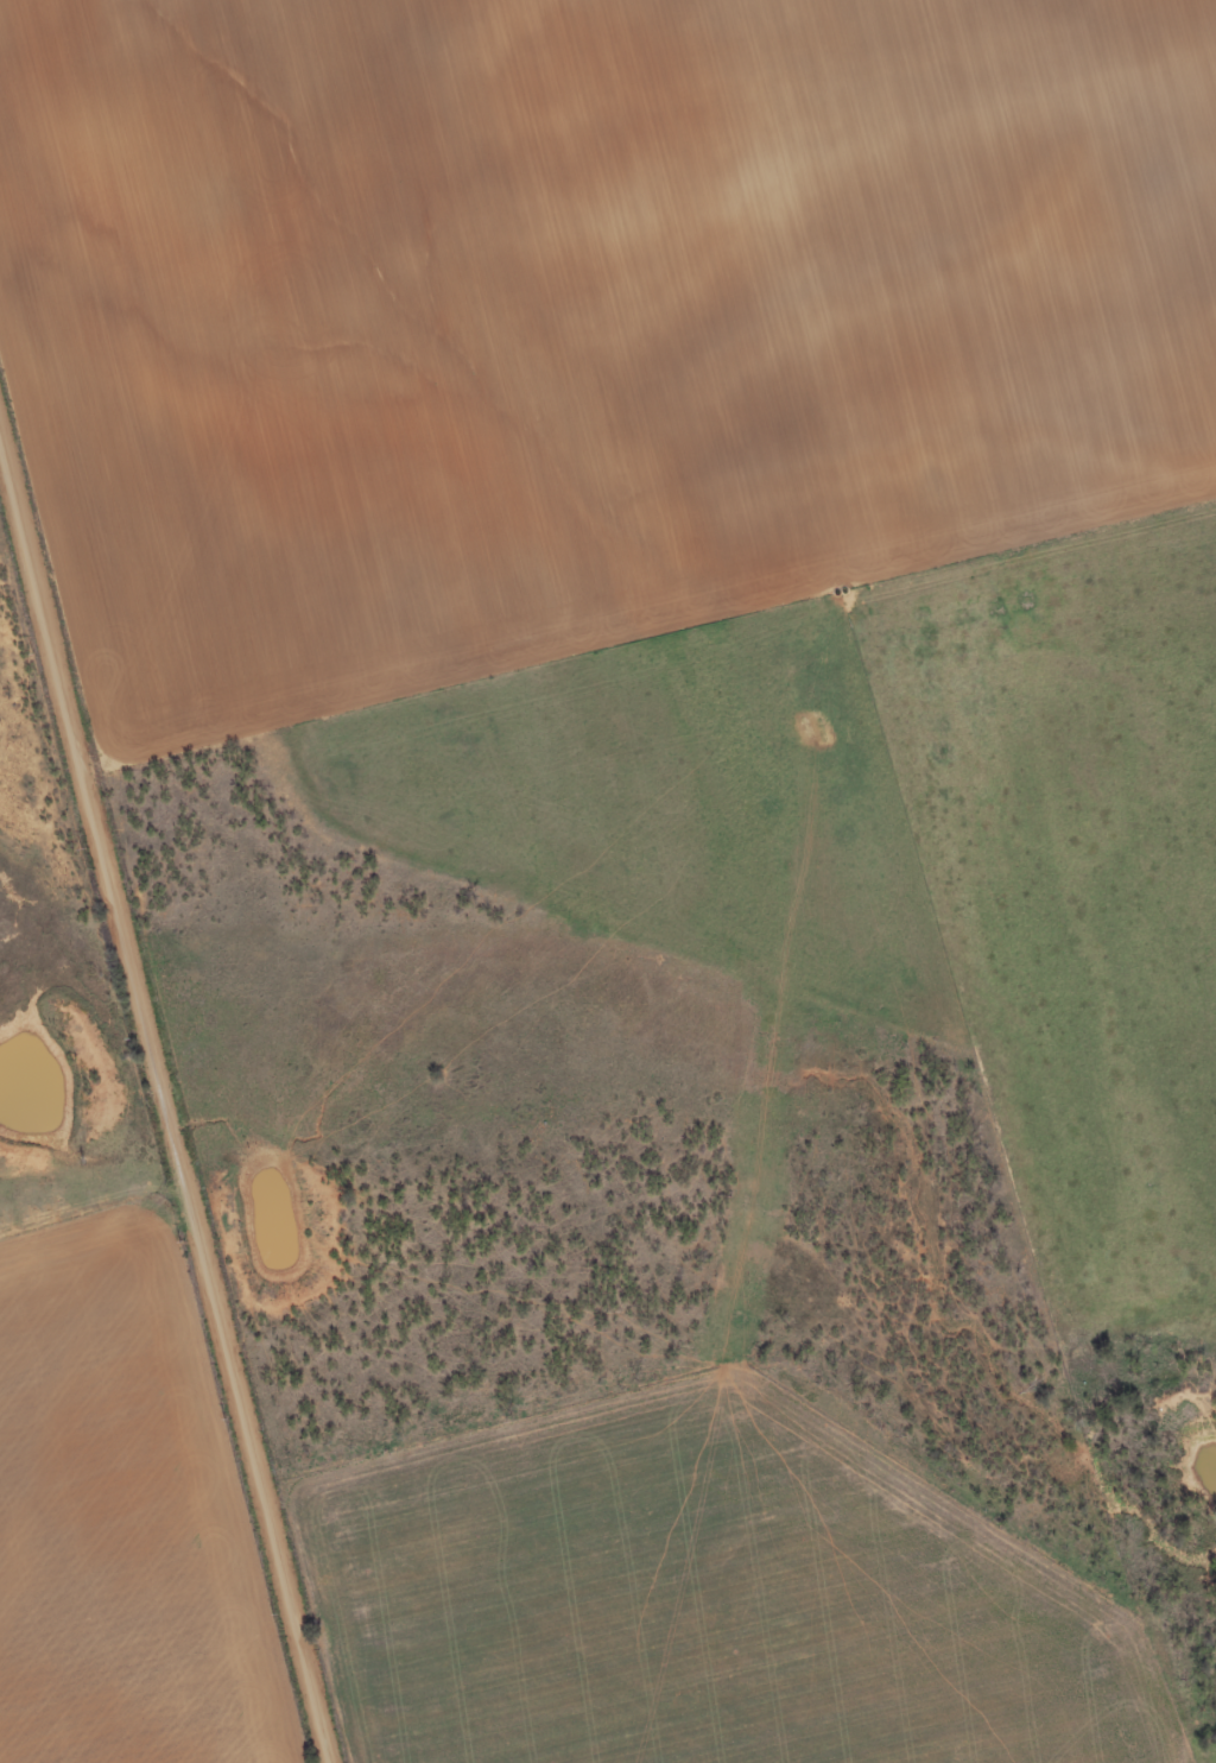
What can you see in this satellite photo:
road: (164, 1099)

